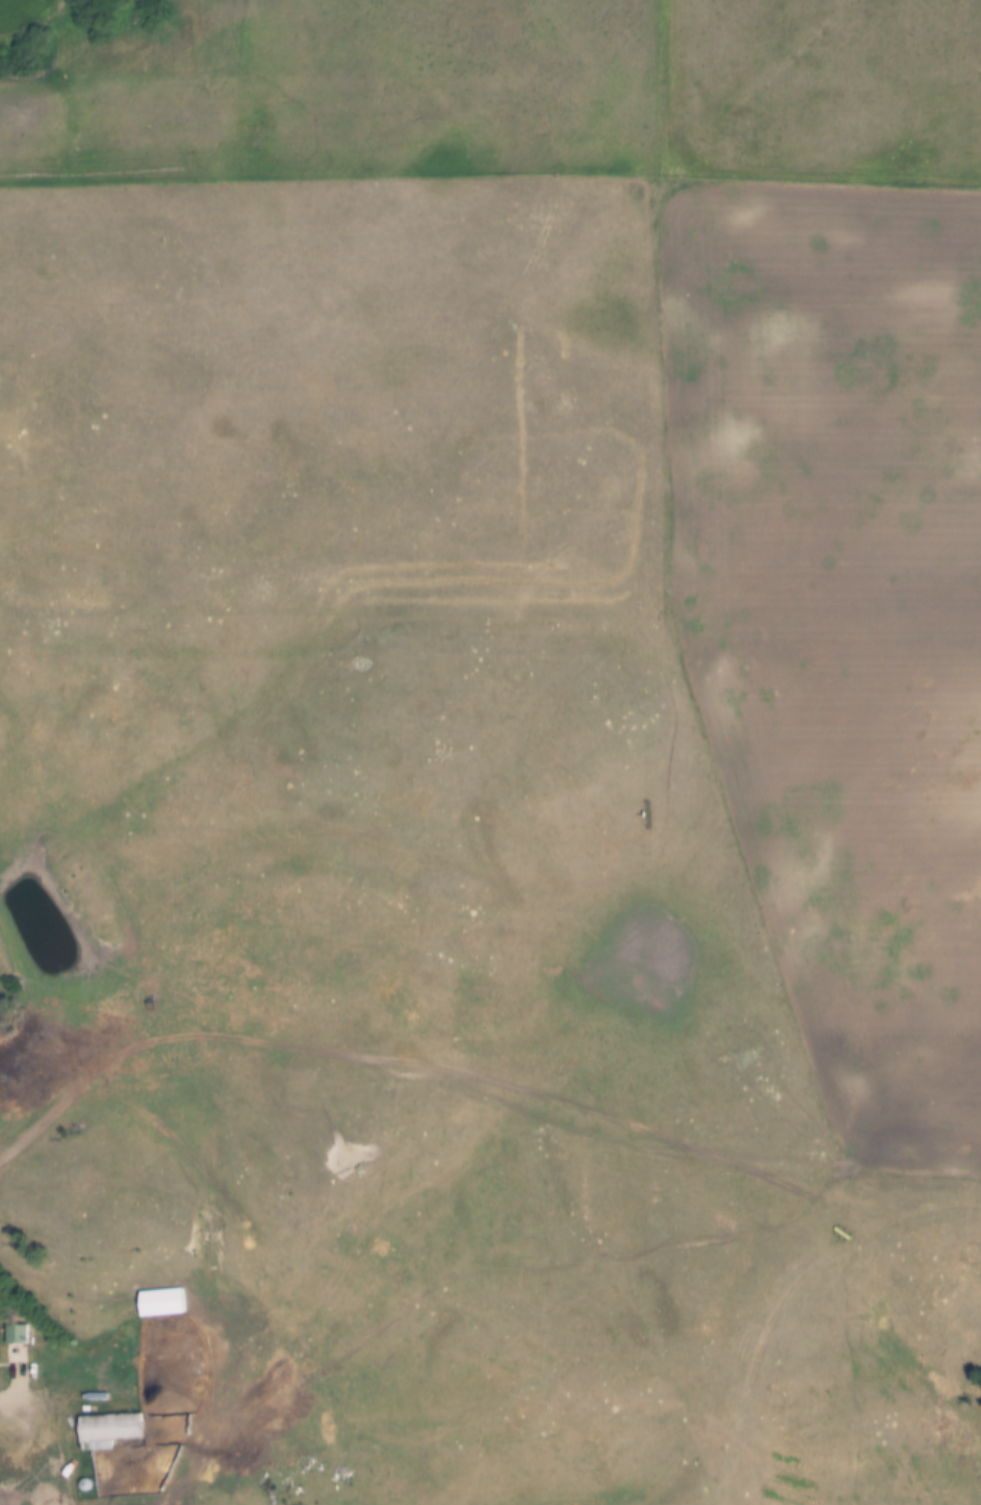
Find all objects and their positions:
building: (160, 1305)
building: (15, 1335)
road: (22, 1403)
building: (111, 1431)

